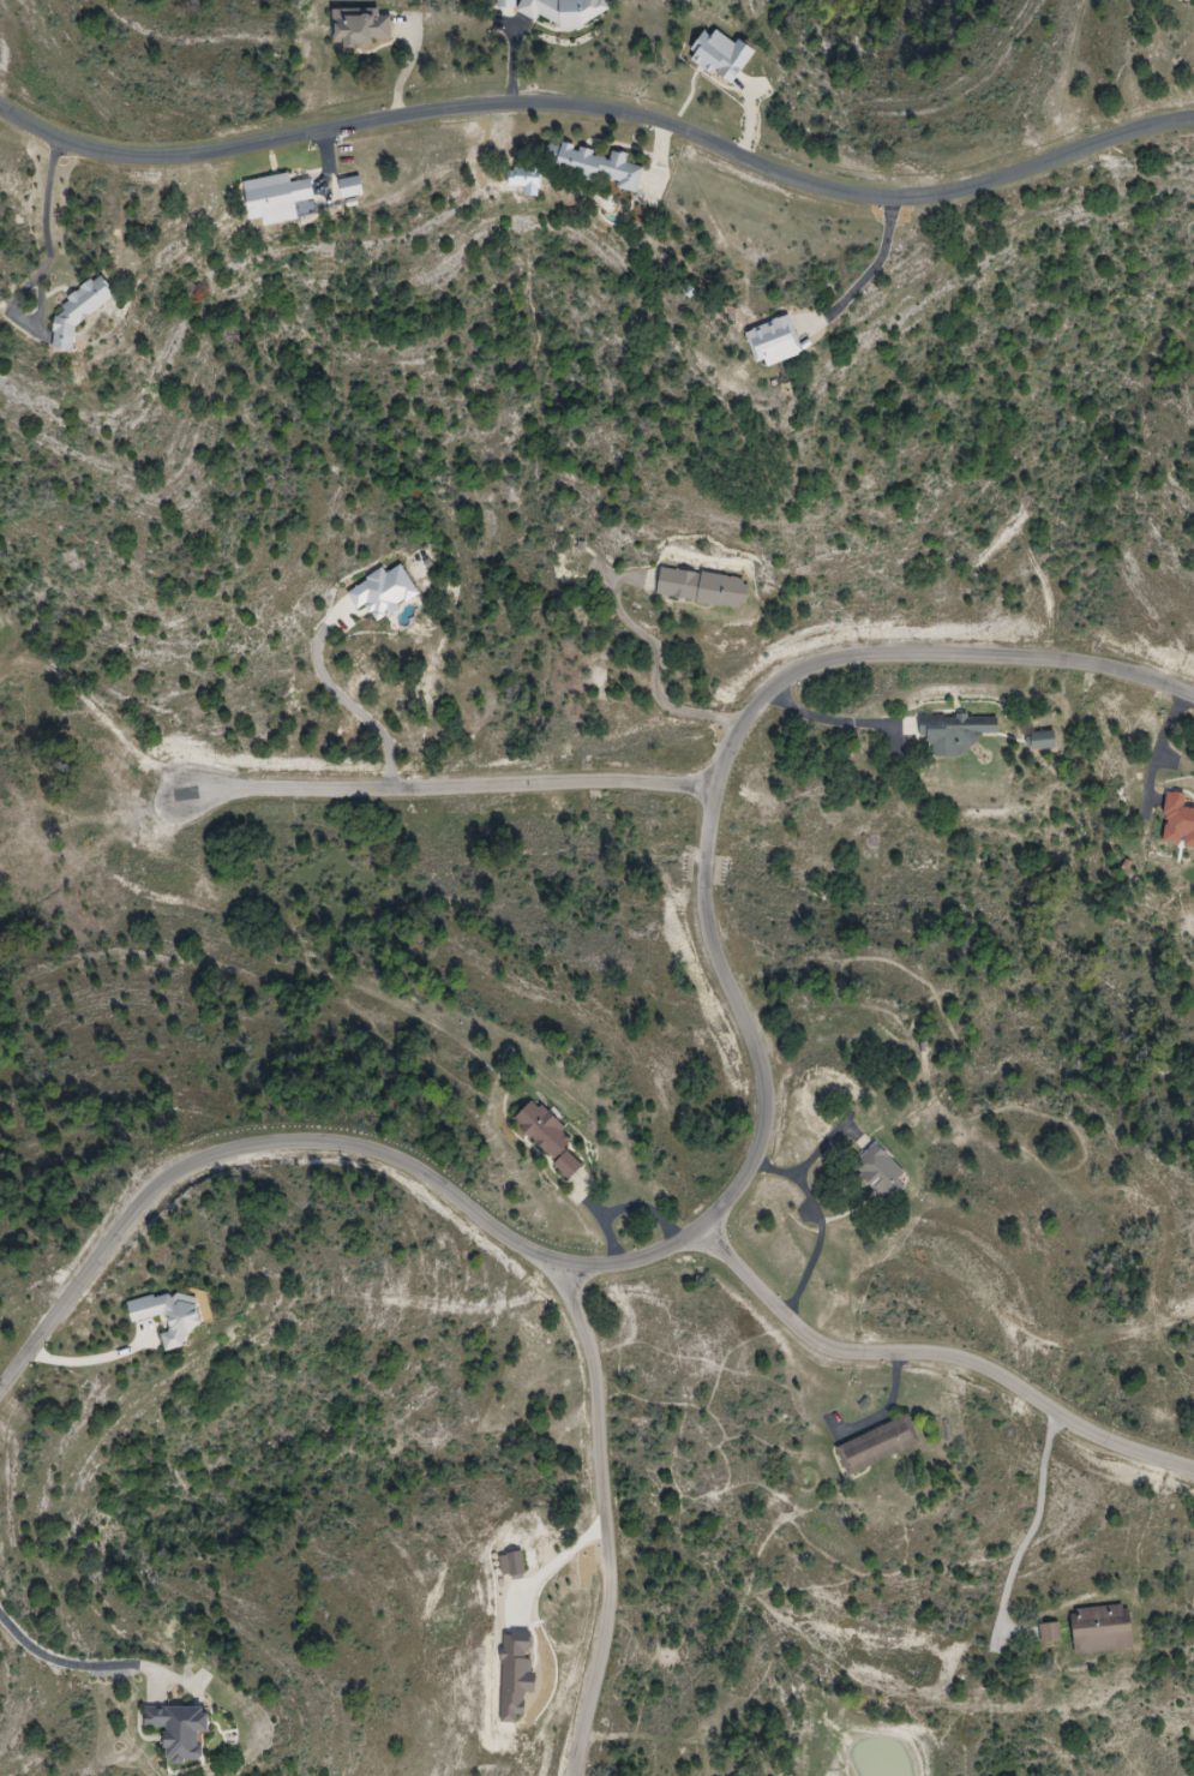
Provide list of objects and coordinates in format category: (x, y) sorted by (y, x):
building: (364, 28)
building: (722, 56)
road: (601, 109)
building: (595, 167)
building: (350, 189)
building: (276, 199)
road: (46, 208)
road: (878, 265)
building: (79, 312)
building: (774, 343)
building: (695, 586)
road: (658, 660)
road: (826, 723)
building: (956, 732)
building: (1042, 740)
road: (439, 781)
building: (548, 1137)
road: (750, 1161)
building: (881, 1173)
road: (818, 1221)
building: (170, 1316)
road: (937, 1353)
road: (88, 1361)
building: (878, 1445)
road: (595, 1517)
road: (1034, 1523)
road: (546, 1568)
building: (1102, 1630)
building: (1050, 1633)
road: (73, 1666)
building: (180, 1730)

